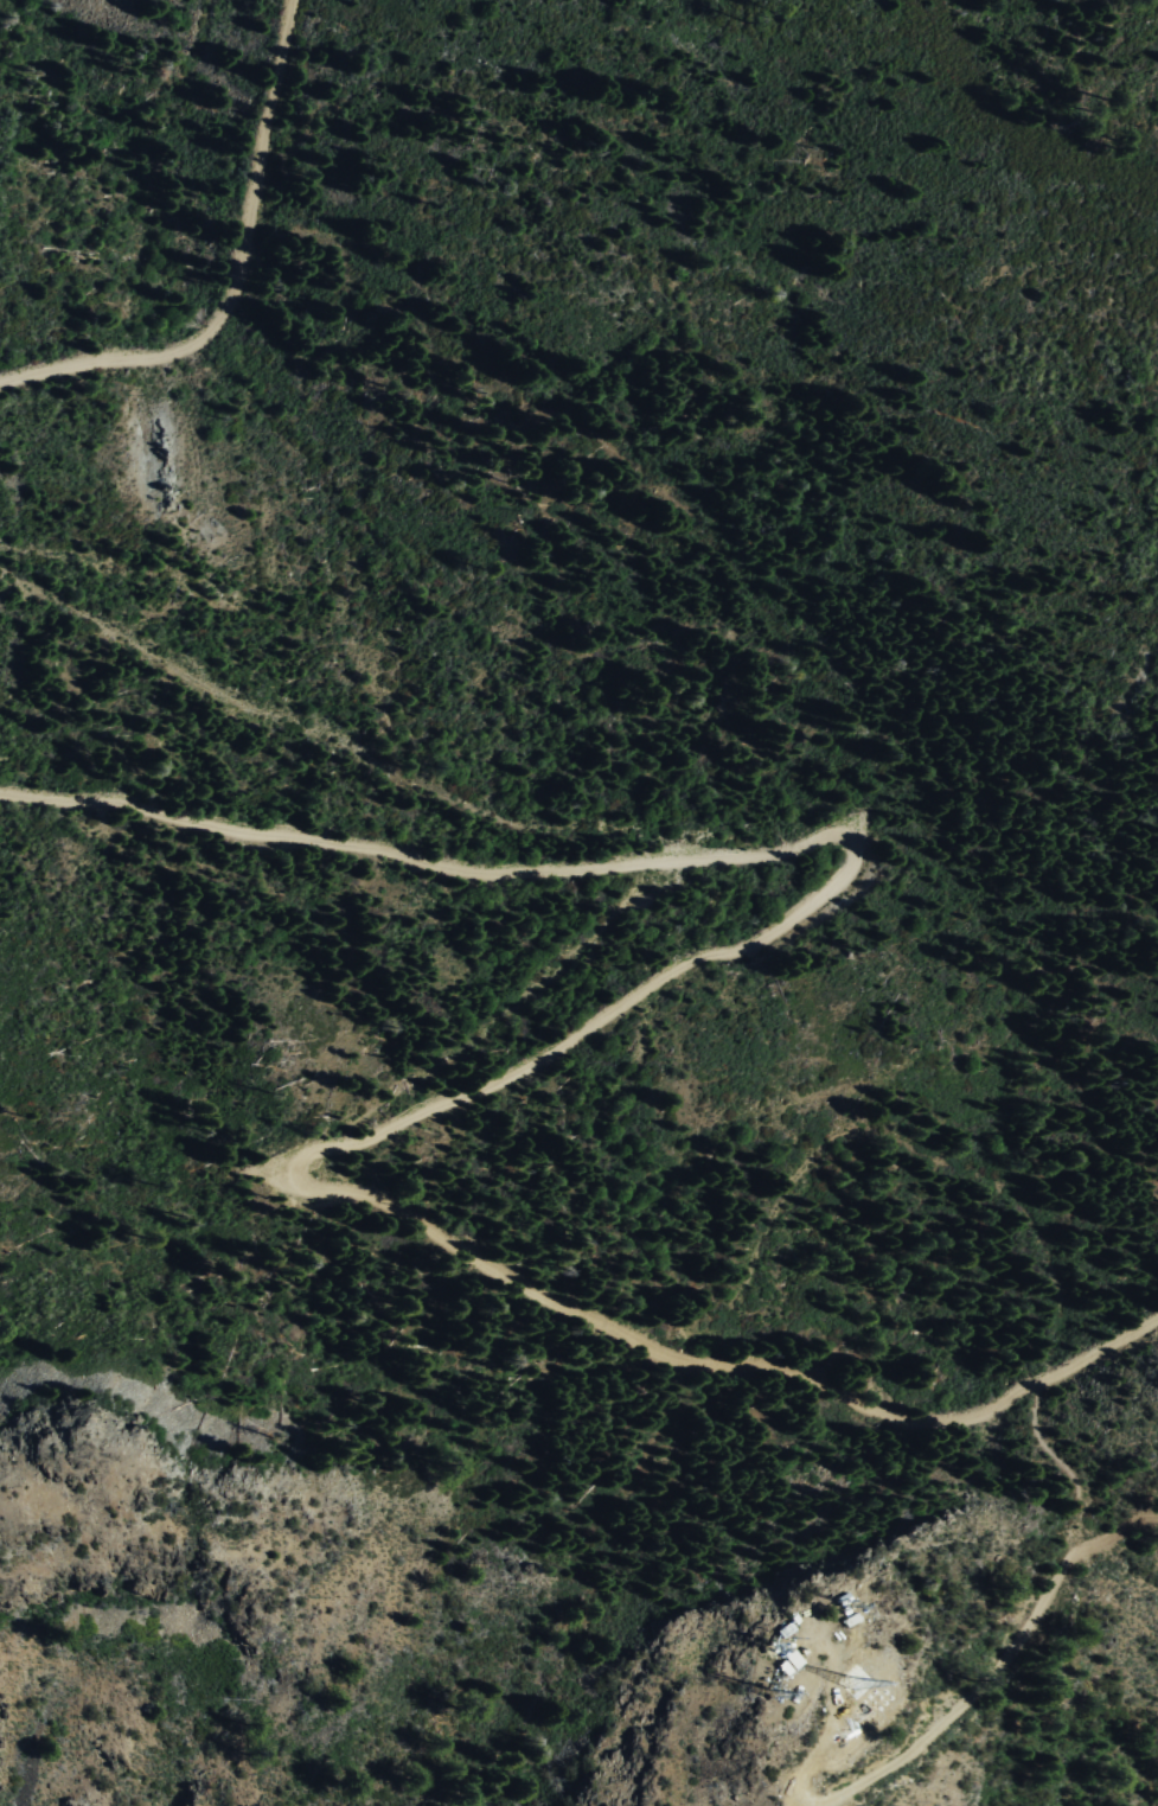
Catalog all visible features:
road: (235, 273)
road: (559, 1047)
road: (927, 1730)

